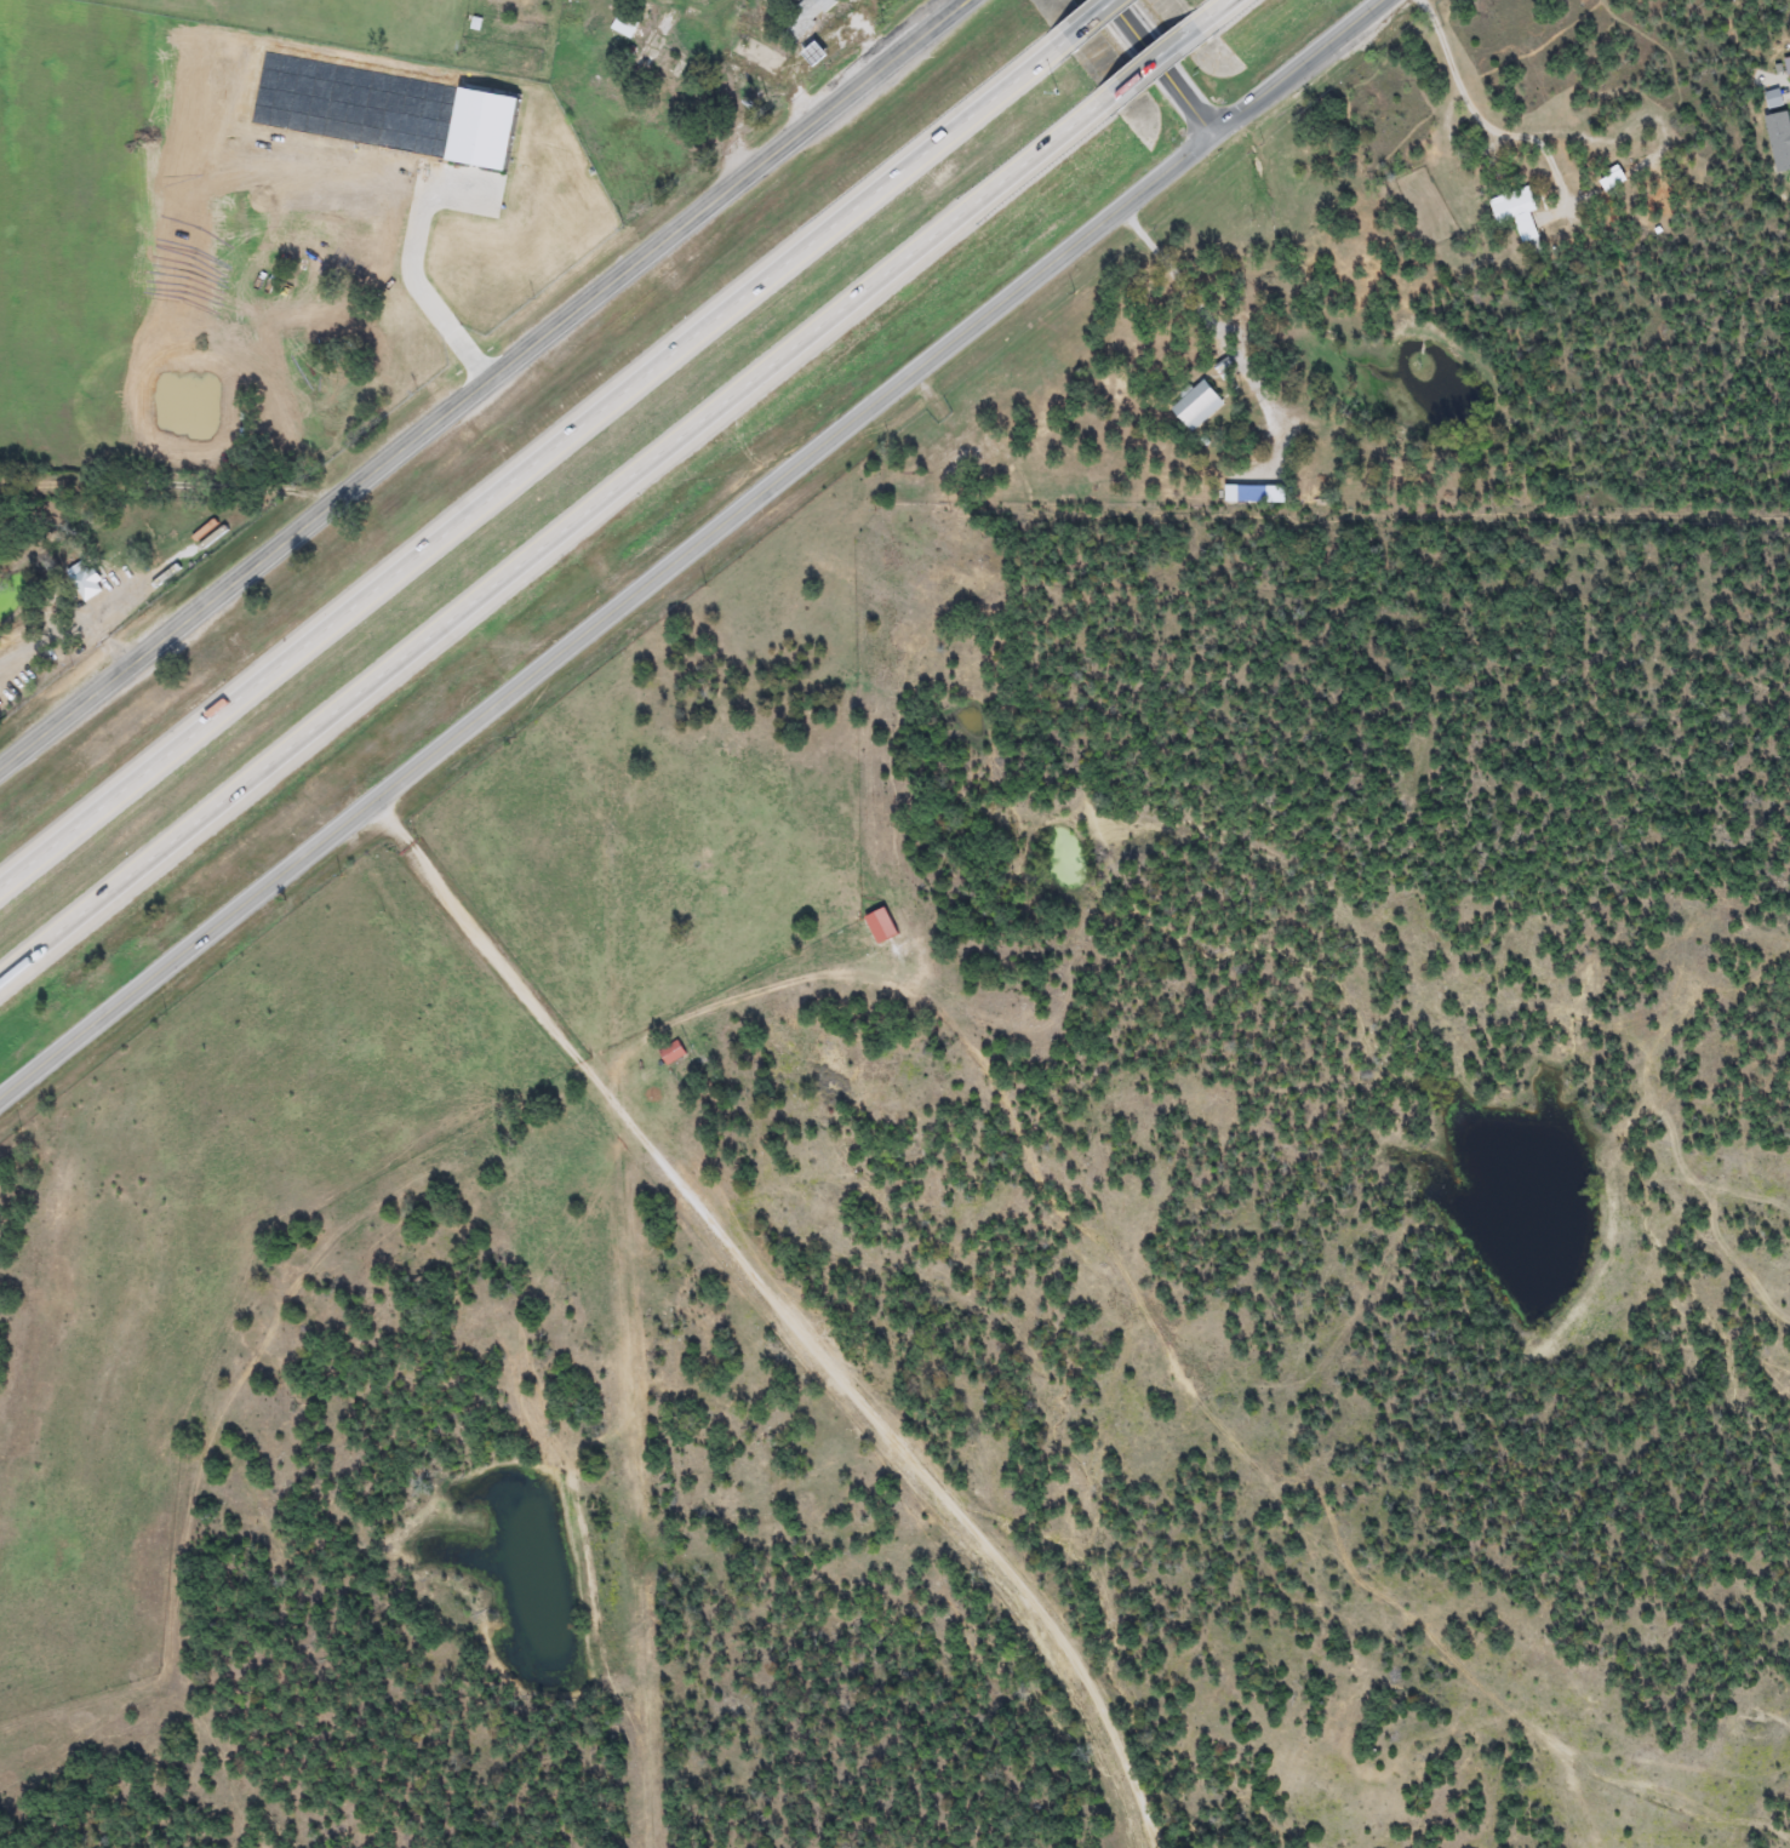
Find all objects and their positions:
building: (768, 2)
road: (1209, 8)
building: (805, 16)
road: (1079, 18)
building: (623, 25)
road: (858, 34)
gas station: (810, 46)
building: (652, 50)
road: (1149, 55)
road: (1155, 65)
building: (665, 78)
road: (728, 88)
building: (387, 96)
road: (1481, 119)
building: (1611, 179)
building: (1515, 211)
road: (413, 253)
road: (1217, 334)
road: (477, 378)
building: (1195, 406)
road: (528, 459)
road: (165, 484)
building: (1251, 485)
building: (1251, 494)
road: (551, 538)
road: (687, 553)
building: (85, 585)
road: (64, 622)
road: (486, 950)
building: (670, 1052)

